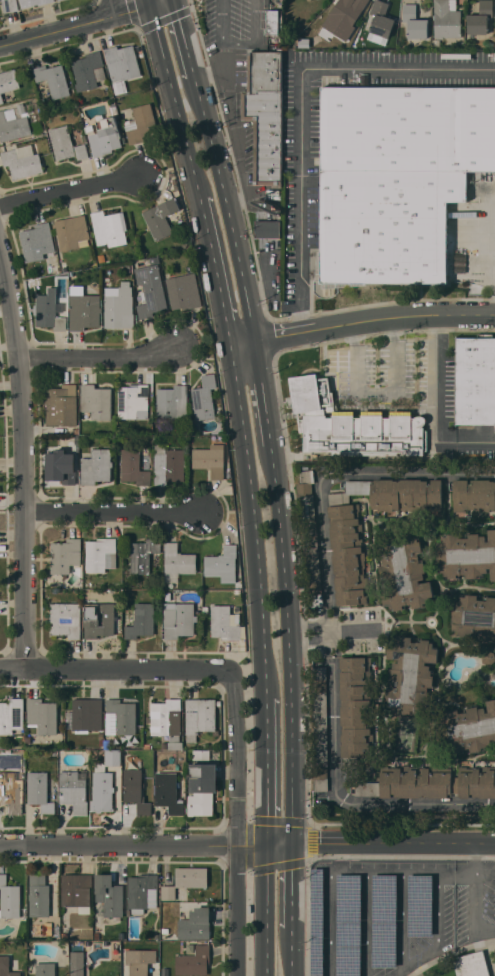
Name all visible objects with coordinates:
building: (0, 0)
building: (307, 0)
road: (147, 1)
building: (33, 2)
traffic signals: (148, 2)
building: (10, 5)
road: (116, 5)
building: (347, 11)
building: (480, 17)
building: (381, 19)
building: (447, 19)
building: (272, 21)
building: (415, 21)
road: (76, 23)
road: (184, 37)
road: (237, 42)
building: (436, 42)
building: (491, 44)
road: (229, 56)
building: (122, 62)
building: (88, 70)
building: (53, 79)
building: (8, 80)
building: (1, 99)
road: (174, 99)
road: (299, 105)
building: (20, 107)
building: (113, 109)
building: (265, 113)
building: (140, 124)
building: (13, 125)
road: (232, 128)
building: (105, 137)
building: (66, 145)
building: (21, 160)
building: (399, 180)
building: (173, 183)
road: (73, 196)
road: (227, 207)
building: (161, 219)
building: (109, 227)
building: (267, 228)
building: (72, 232)
building: (37, 242)
building: (101, 258)
building: (154, 260)
building: (128, 267)
building: (58, 268)
road: (215, 271)
building: (150, 290)
building: (184, 291)
building: (65, 297)
building: (119, 306)
building: (84, 309)
building: (48, 310)
road: (362, 322)
road: (102, 360)
building: (475, 379)
road: (263, 391)
road: (380, 391)
building: (204, 398)
building: (96, 401)
building: (133, 401)
building: (172, 403)
building: (61, 405)
road: (438, 407)
building: (352, 424)
building: (210, 459)
road: (25, 460)
building: (170, 461)
building: (60, 465)
building: (96, 466)
building: (133, 467)
road: (340, 472)
building: (473, 494)
road: (117, 513)
road: (253, 521)
building: (309, 536)
building: (346, 543)
building: (100, 554)
building: (466, 554)
building: (65, 555)
building: (143, 555)
building: (177, 562)
building: (223, 563)
building: (403, 571)
building: (206, 609)
building: (474, 617)
building: (65, 619)
building: (98, 619)
building: (141, 620)
building: (179, 620)
fountain: (431, 621)
building: (226, 623)
road: (331, 629)
road: (333, 631)
road: (289, 641)
building: (488, 656)
road: (98, 671)
building: (410, 674)
building: (355, 709)
building: (11, 714)
building: (85, 714)
building: (42, 715)
building: (120, 716)
building: (200, 716)
building: (167, 720)
building: (319, 728)
building: (467, 728)
park: (405, 732)
building: (100, 734)
building: (101, 742)
building: (107, 744)
building: (147, 746)
building: (125, 751)
building: (198, 754)
road: (266, 770)
building: (104, 782)
building: (430, 782)
building: (202, 788)
building: (135, 789)
building: (39, 790)
building: (74, 790)
building: (12, 791)
building: (168, 792)
road: (338, 806)
road: (238, 807)
road: (280, 820)
traffic signals: (267, 843)
traffic signals: (294, 843)
road: (247, 845)
road: (475, 864)
road: (271, 867)
road: (366, 869)
road: (438, 872)
building: (185, 880)
road: (293, 884)
building: (76, 890)
building: (142, 892)
building: (39, 895)
building: (109, 895)
building: (9, 898)
building: (420, 905)
road: (475, 906)
road: (438, 908)
road: (265, 909)
road: (402, 917)
building: (385, 920)
building: (317, 922)
road: (329, 923)
road: (367, 923)
building: (195, 924)
building: (349, 924)
road: (485, 927)
building: (48, 928)
building: (64, 935)
building: (97, 935)
building: (163, 936)
road: (292, 951)
road: (420, 954)
building: (77, 958)
building: (139, 960)
building: (193, 961)
building: (471, 964)
building: (6, 967)
building: (45, 969)
road: (396, 970)

